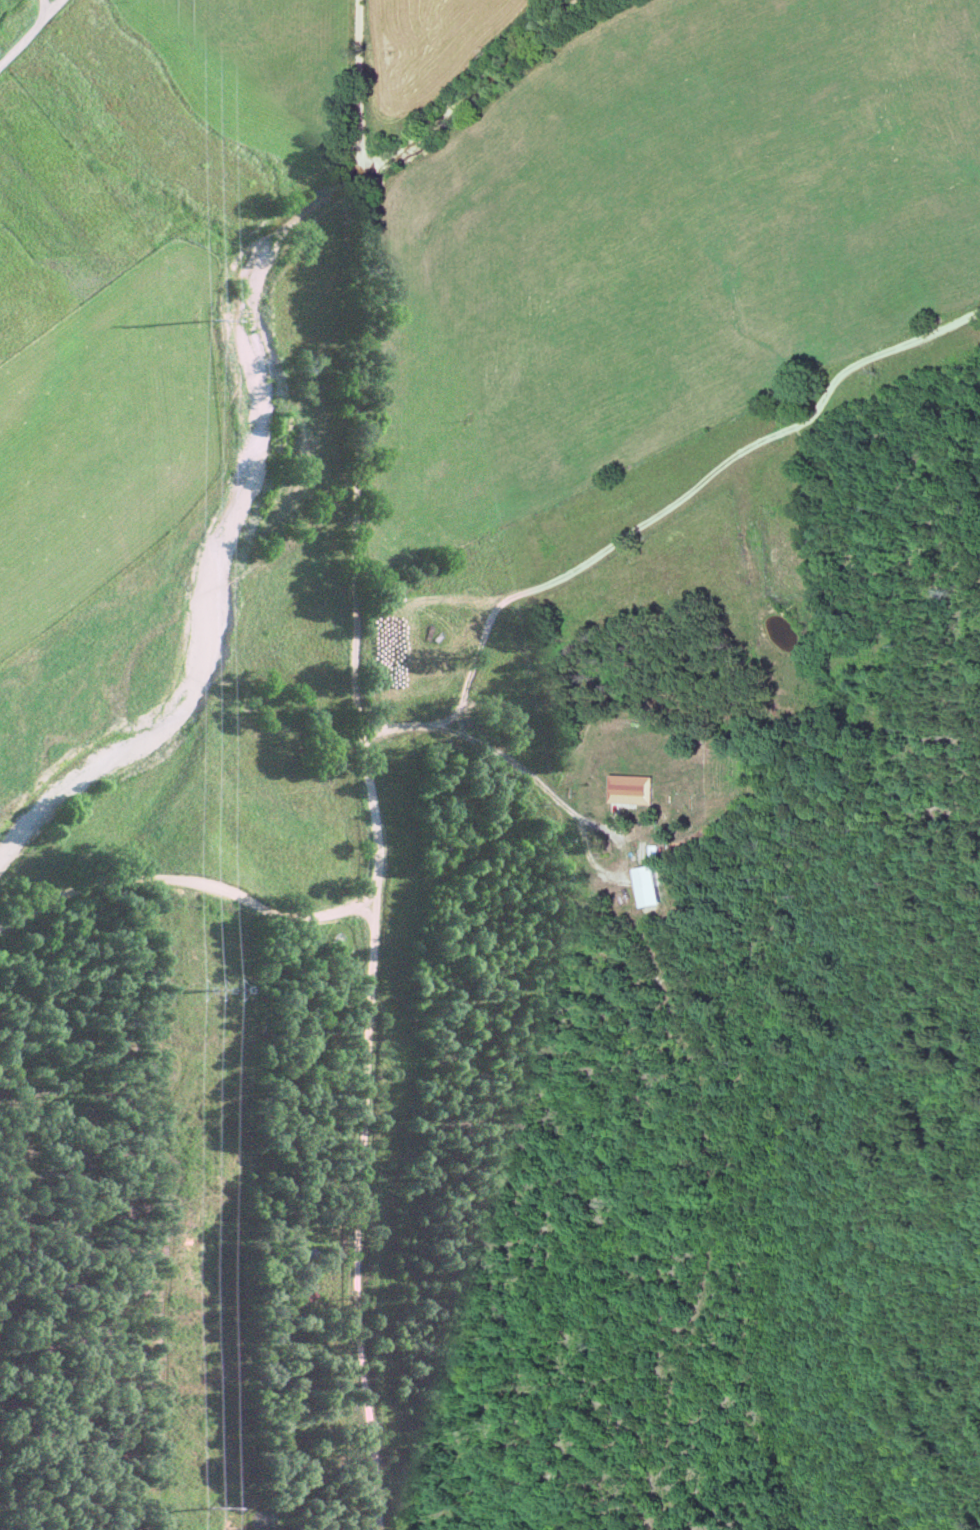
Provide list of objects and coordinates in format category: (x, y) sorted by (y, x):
road: (31, 32)
power tower: (200, 323)
road: (365, 457)
building: (632, 789)
road: (184, 888)
power tower: (204, 994)
road: (366, 1222)
power tower: (207, 1510)

